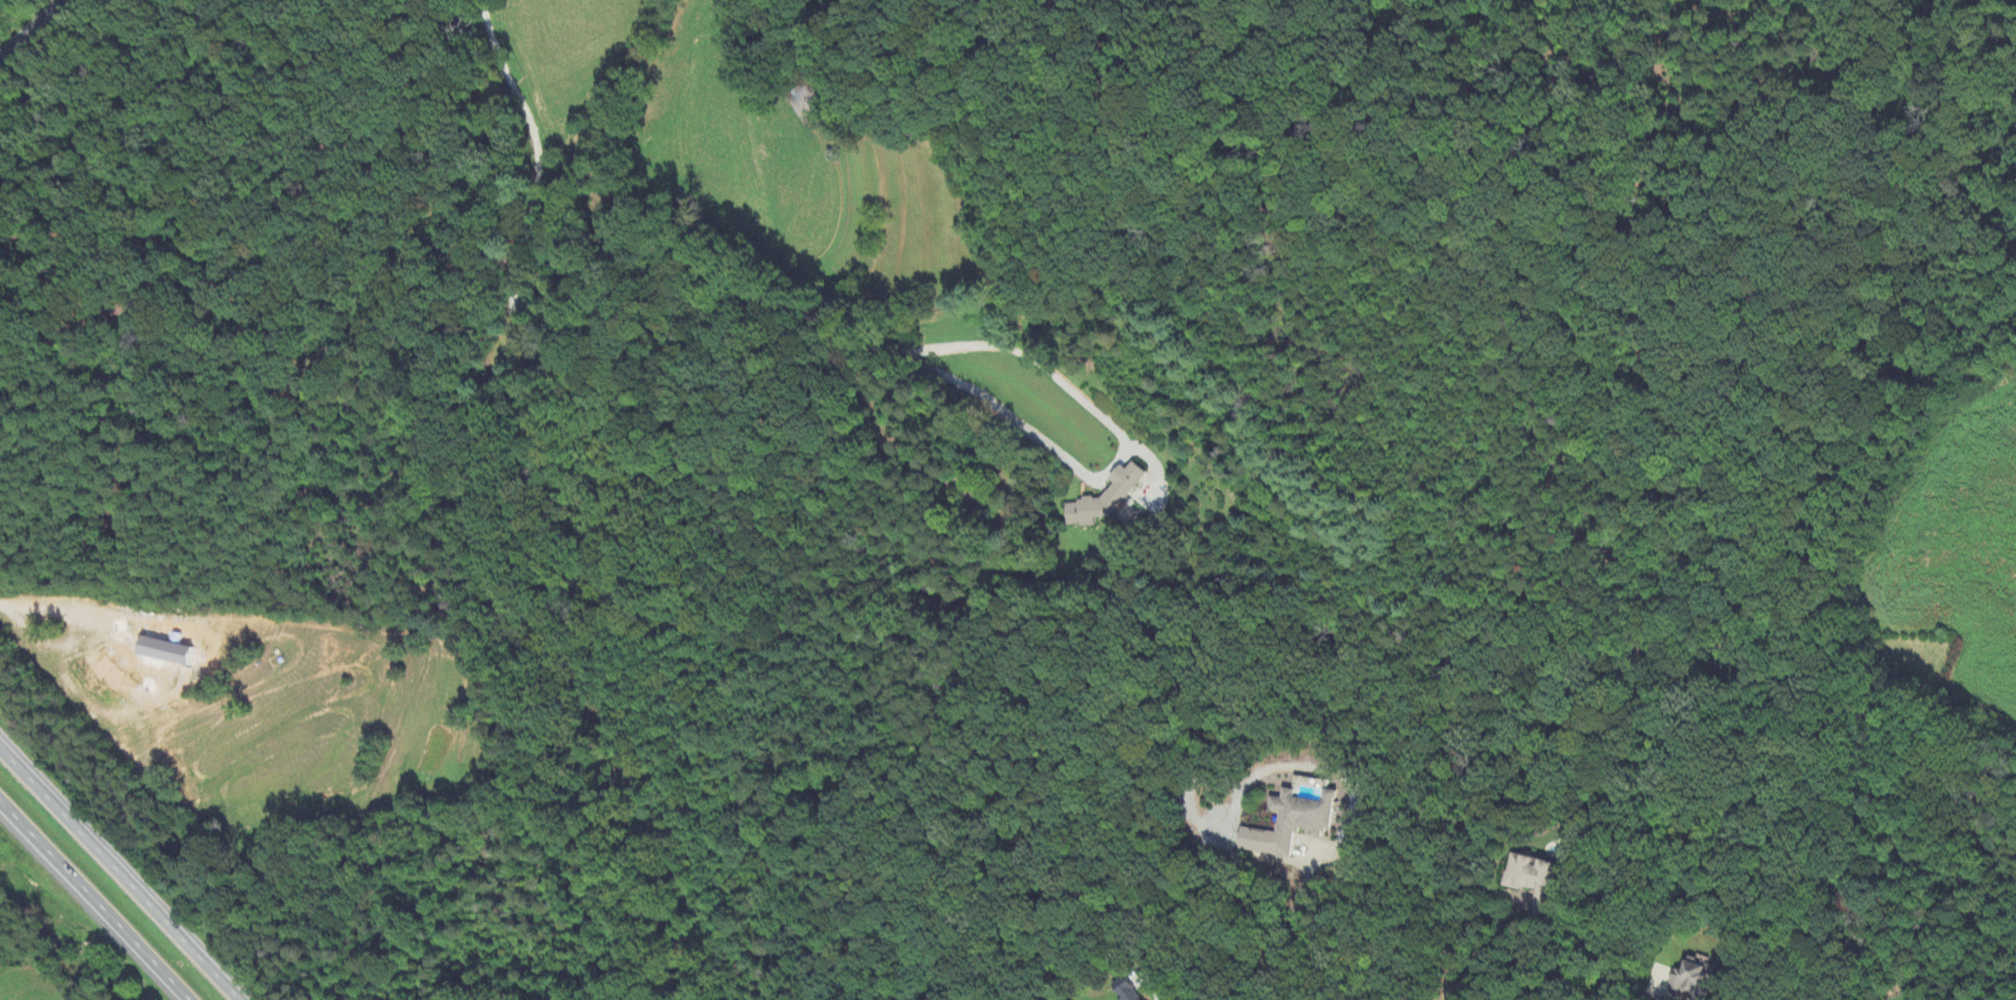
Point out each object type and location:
road: (32, 30)
road: (561, 288)
road: (1121, 448)
building: (1108, 499)
building: (171, 652)
building: (1295, 819)
road: (120, 873)
building: (1537, 874)
road: (1507, 896)
road: (87, 905)
road: (1282, 931)
building: (1698, 977)
road: (1666, 984)
road: (1156, 991)
building: (1128, 993)
road: (1448, 994)

